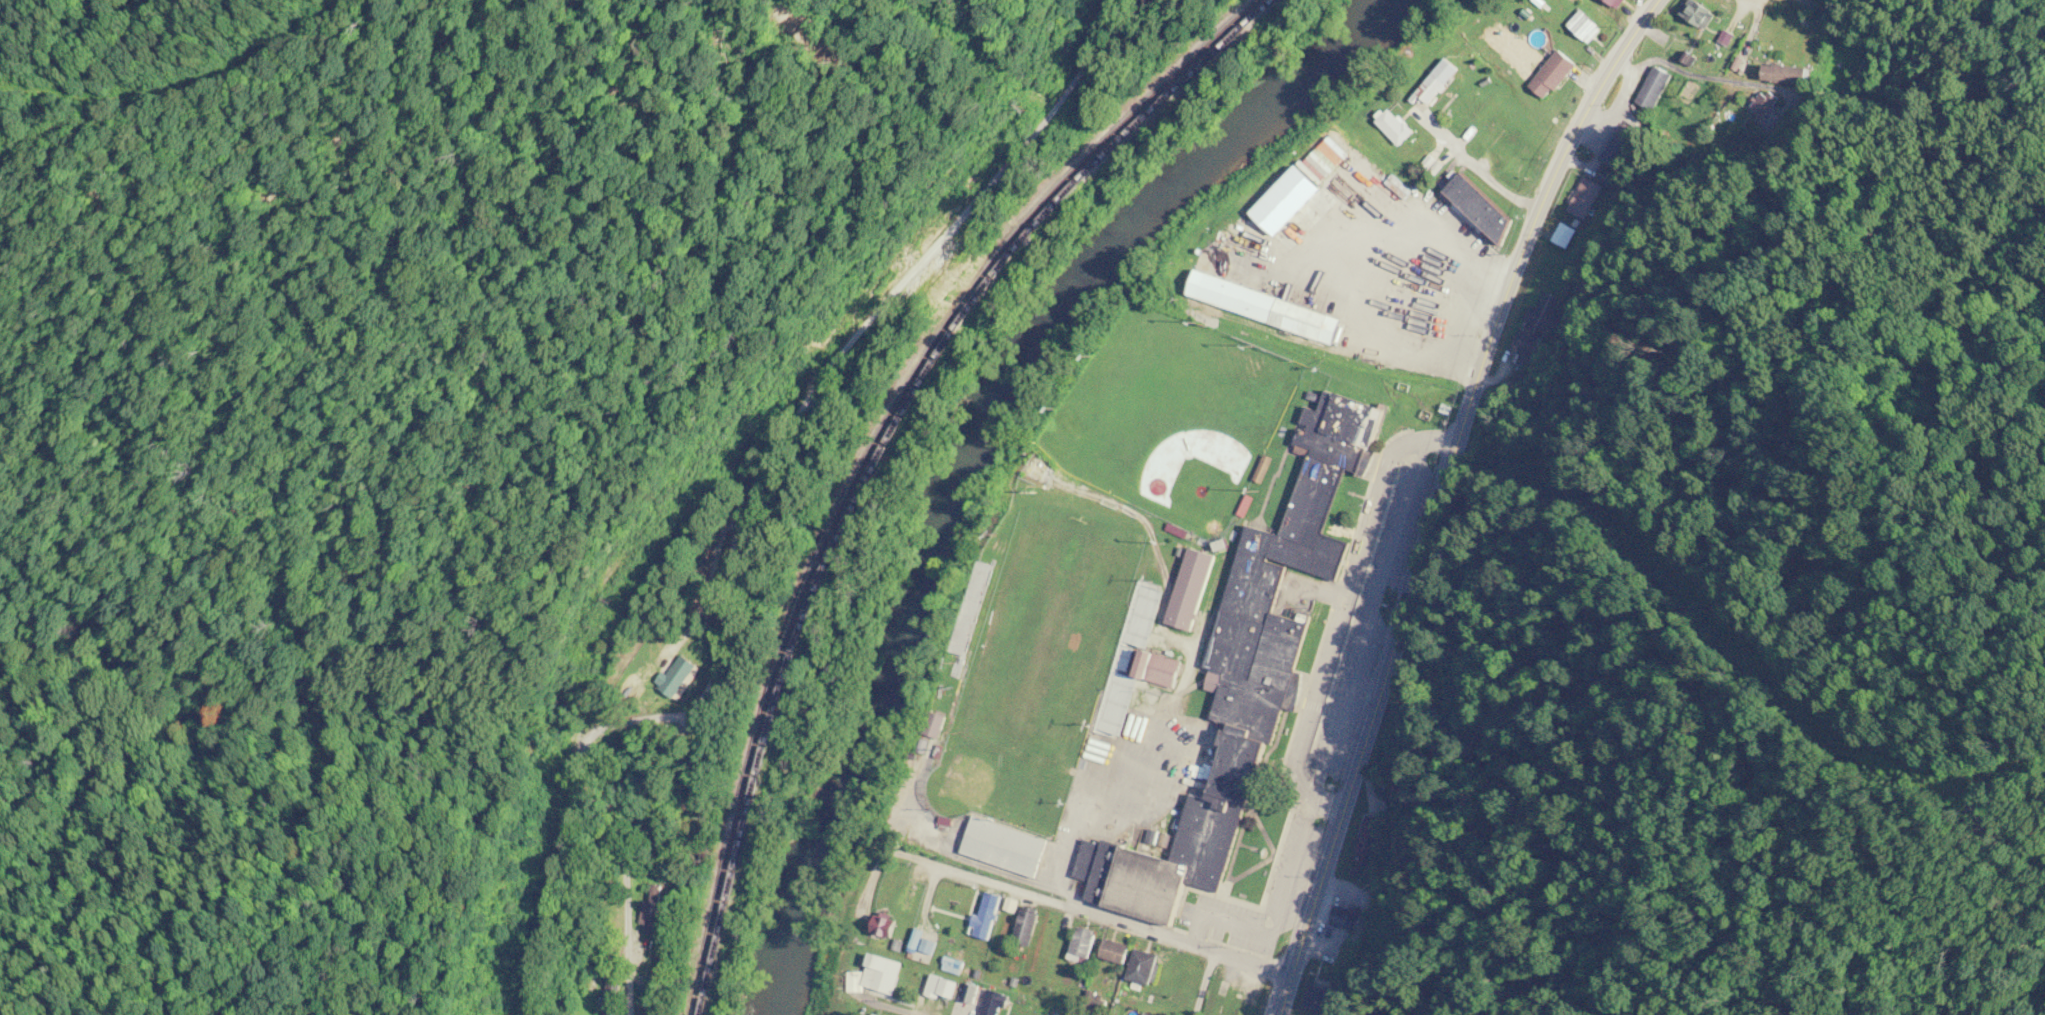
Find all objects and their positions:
building: (1616, 3)
building: (1718, 3)
building: (1697, 14)
building: (1585, 27)
building: (1553, 74)
building: (1781, 75)
building: (1441, 86)
building: (1651, 88)
road: (1814, 92)
power tower: (1011, 123)
building: (1396, 127)
building: (1620, 147)
road: (1470, 167)
building: (1589, 192)
building: (1290, 201)
building: (1483, 208)
building: (1562, 236)
building: (1266, 308)
building: (1400, 319)
building: (1538, 323)
river: (983, 442)
railway: (877, 454)
road: (752, 487)
road: (1438, 494)
building: (1192, 590)
power tower: (604, 602)
building: (1161, 670)
building: (682, 679)
building: (1245, 679)
building: (935, 725)
building: (1370, 839)
building: (1004, 846)
building: (910, 897)
building: (653, 910)
building: (987, 916)
road: (1102, 918)
building: (1340, 918)
building: (1027, 926)
building: (885, 930)
building: (928, 941)
building: (1083, 944)
building: (1116, 952)
building: (954, 959)
building: (1144, 967)
building: (883, 973)
road: (1202, 984)
building: (944, 987)
building: (971, 993)
building: (609, 995)
building: (1323, 1000)
building: (994, 1004)
road: (882, 1006)
building: (1248, 1007)
building: (1146, 1014)

